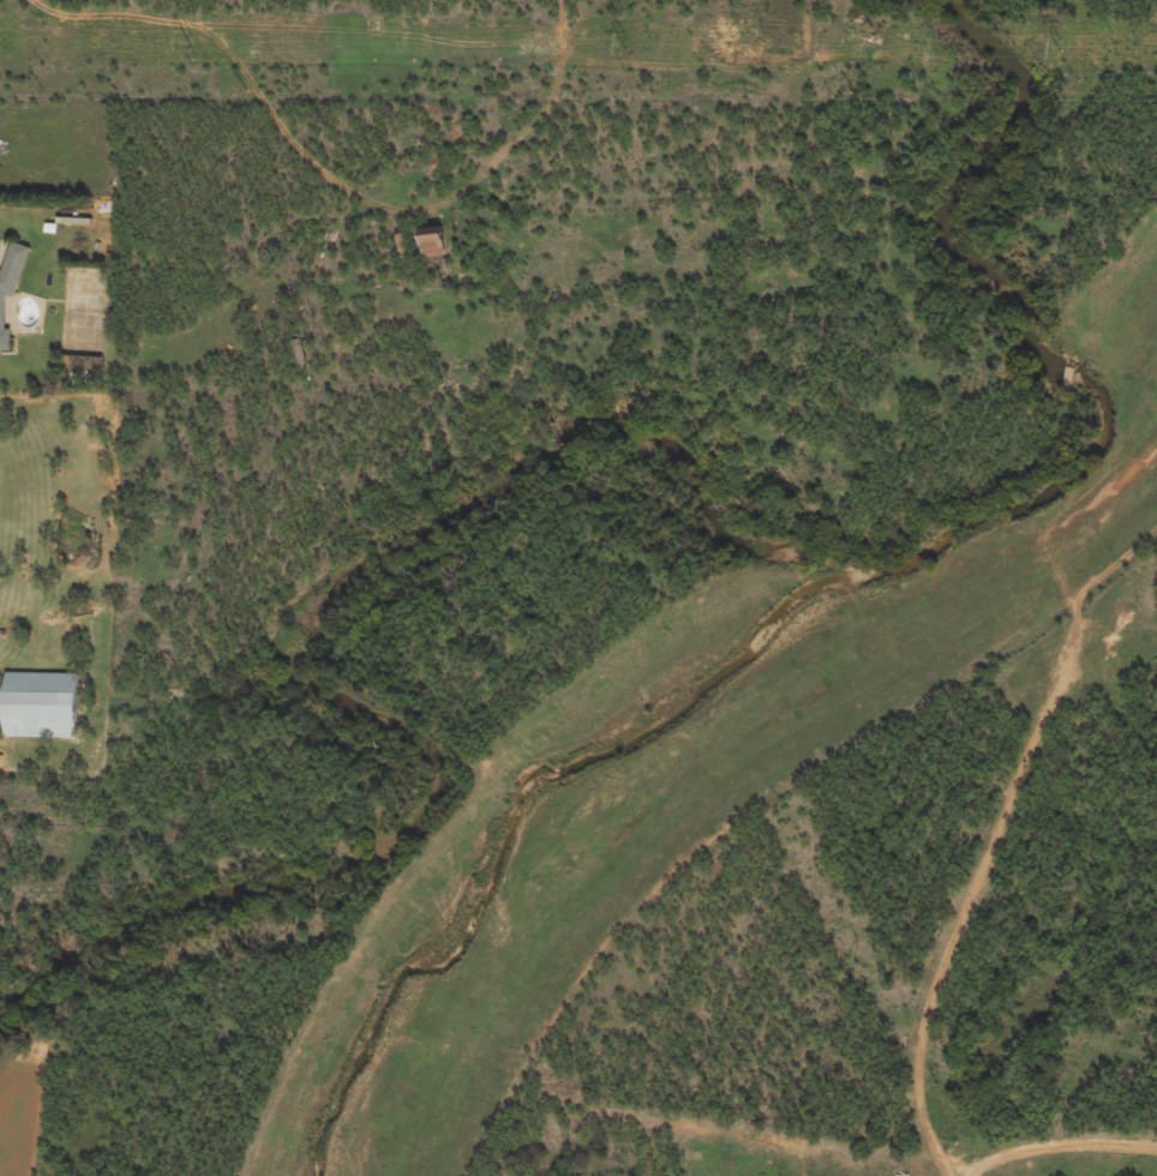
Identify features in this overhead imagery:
power tower: (191, 41)
power tower: (625, 43)
power tower: (1061, 47)
building: (432, 245)
road: (4, 272)
building: (10, 289)
building: (42, 704)

